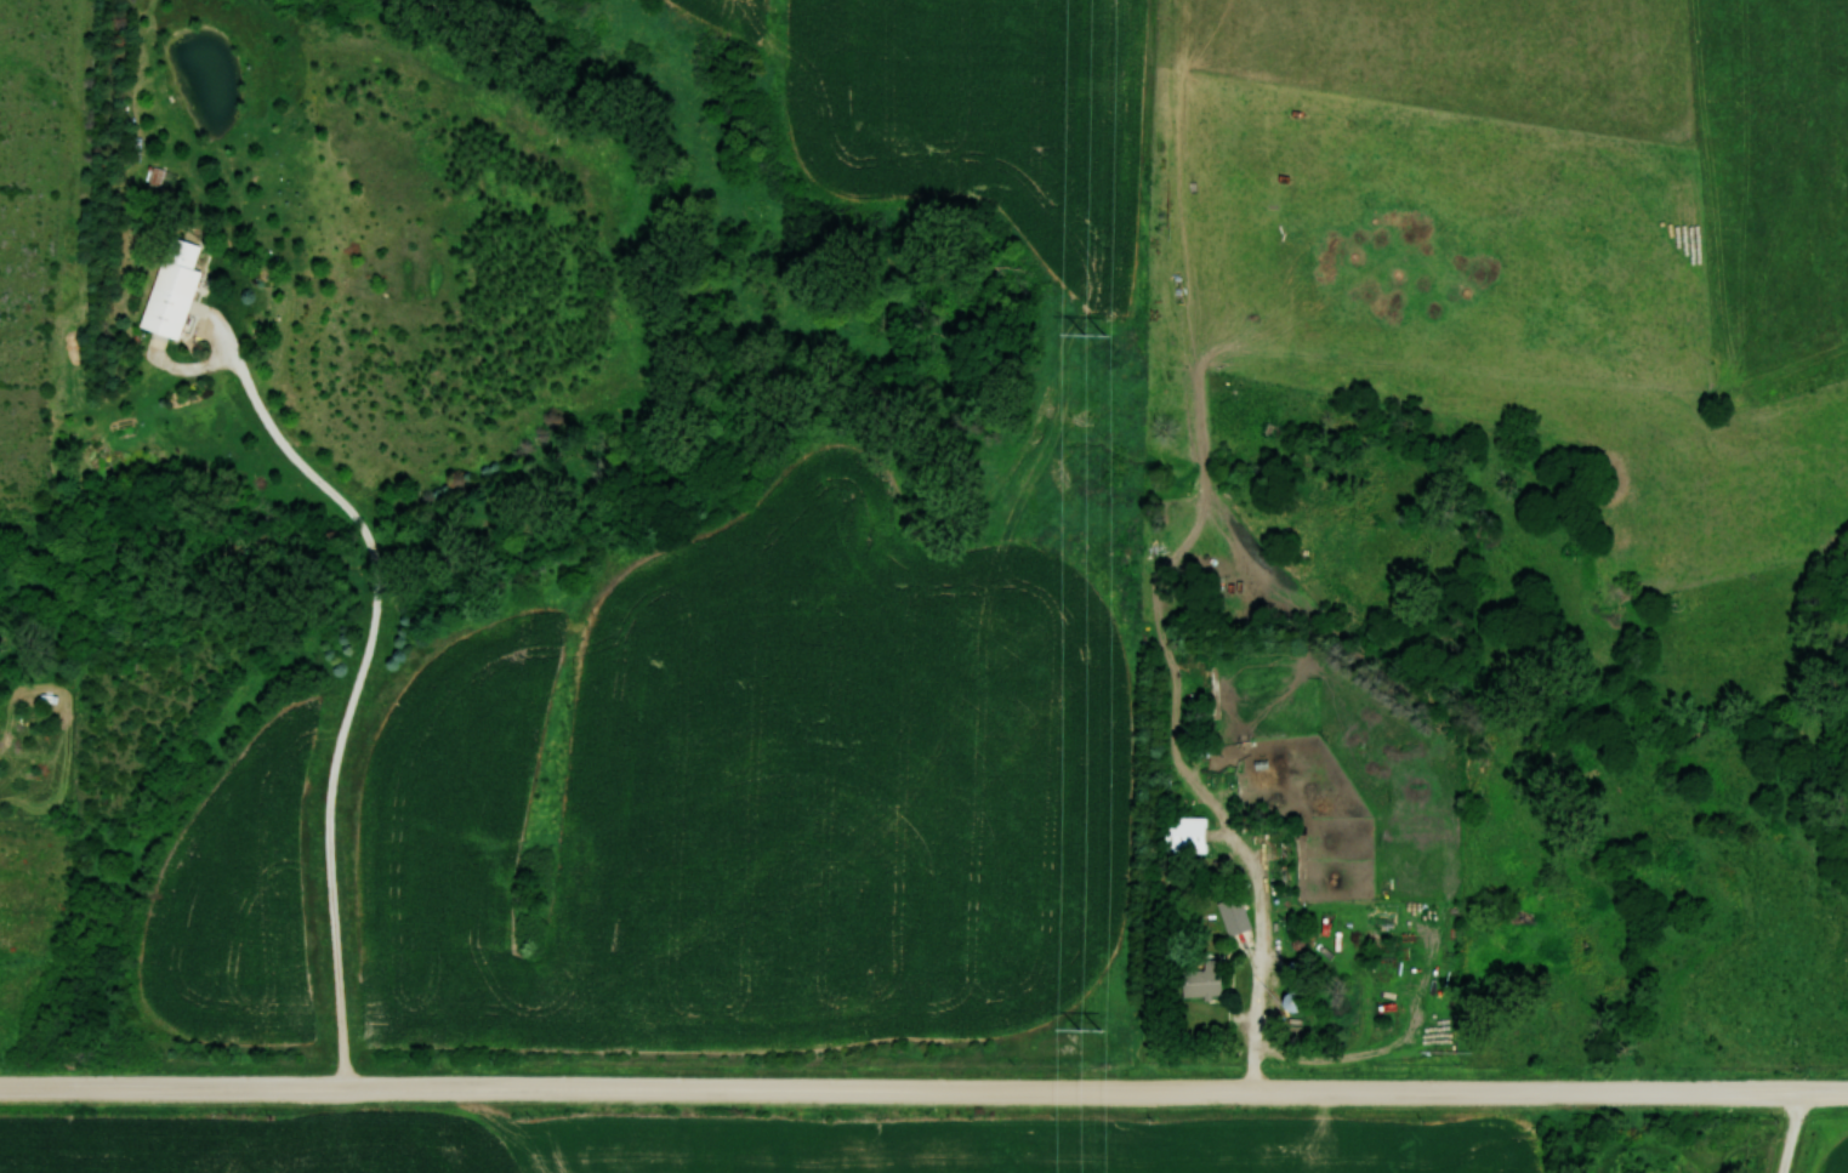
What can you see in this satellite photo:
building: (180, 289)
power tower: (1099, 343)
road: (351, 695)
building: (1182, 836)
building: (1230, 915)
road: (1257, 949)
building: (1199, 980)
building: (1287, 1001)
power tower: (1090, 1026)
road: (921, 1092)
road: (1793, 1133)

